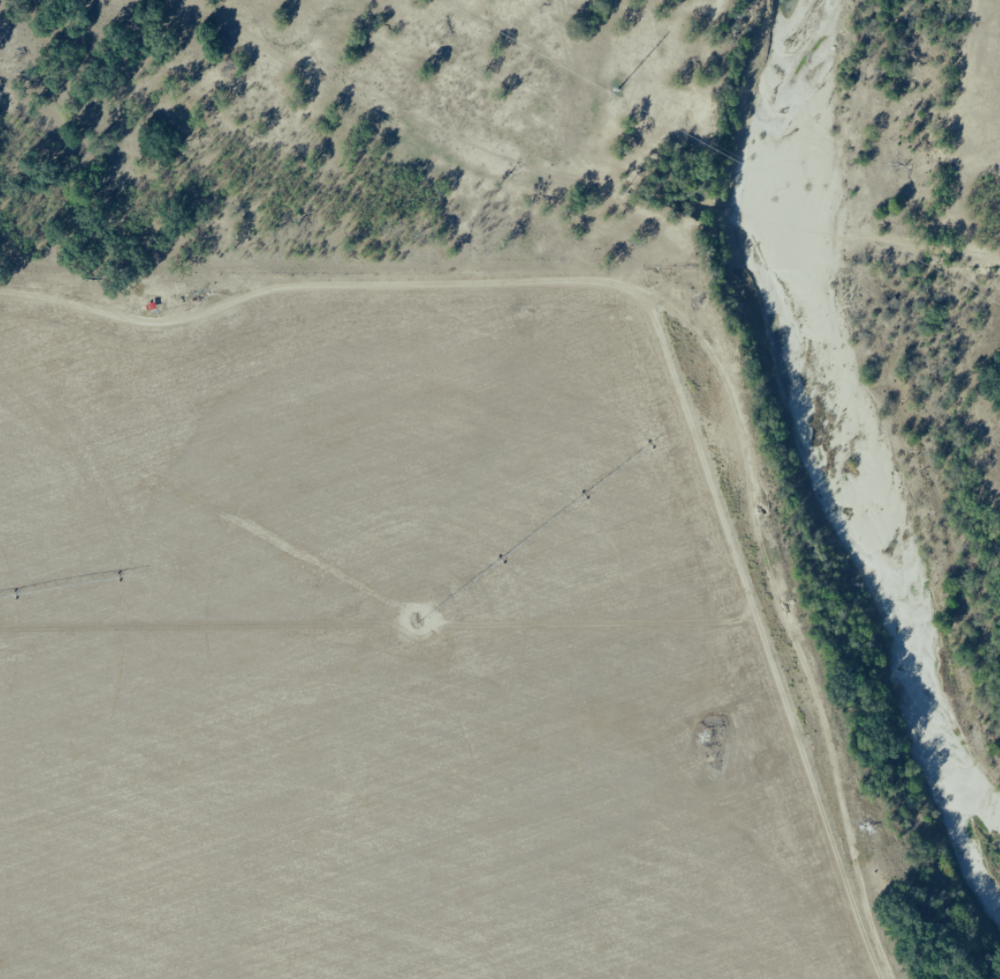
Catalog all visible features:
power tower: (618, 90)

